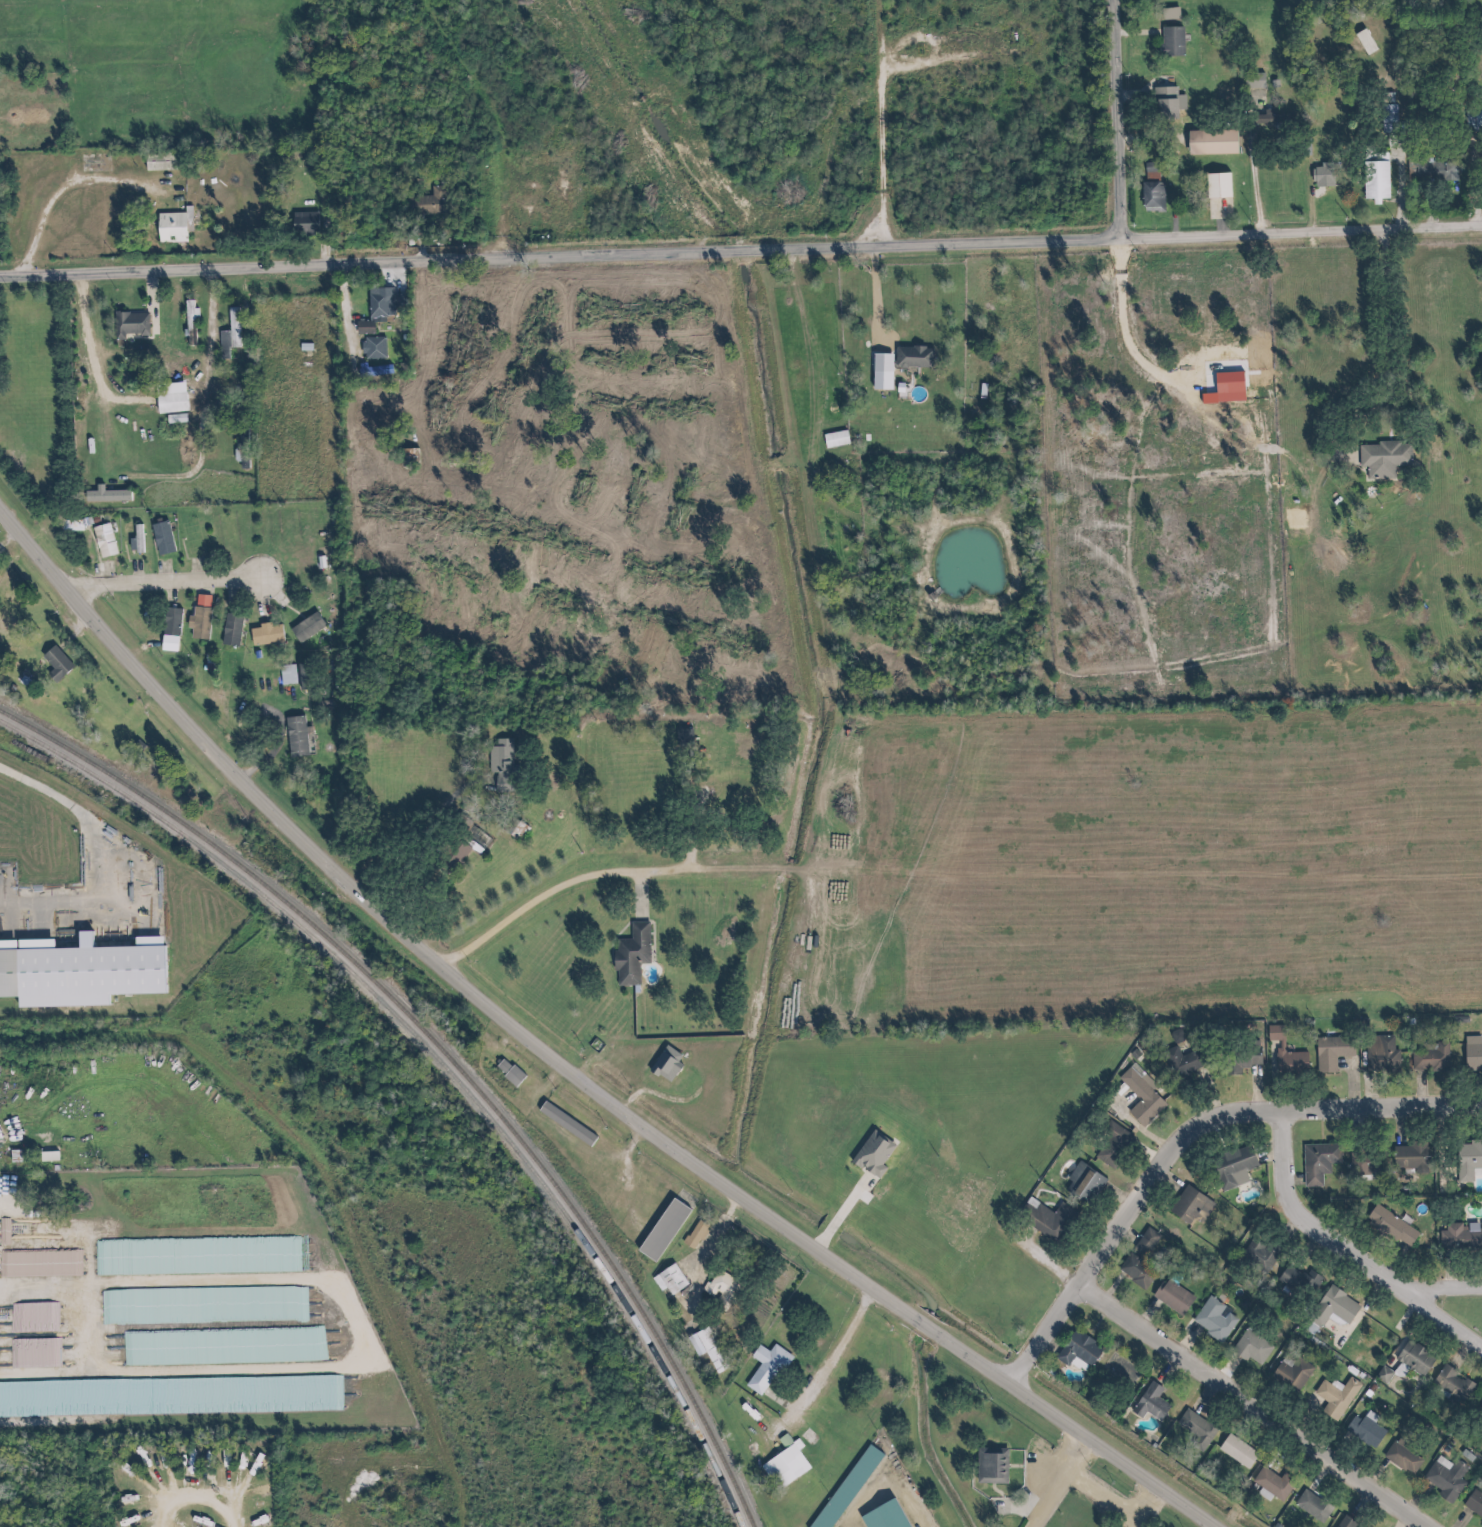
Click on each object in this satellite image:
building: (1173, 42)
building: (1366, 43)
building: (1256, 81)
building: (1167, 103)
road: (1112, 119)
building: (1391, 120)
road: (489, 121)
building: (1475, 122)
building: (1209, 140)
building: (158, 160)
building: (1430, 170)
building: (1323, 177)
building: (1216, 185)
building: (1374, 186)
road: (59, 189)
building: (1149, 197)
building: (426, 204)
building: (301, 220)
building: (171, 227)
road: (740, 250)
road: (145, 290)
building: (378, 306)
building: (169, 315)
building: (127, 322)
building: (361, 329)
road: (1381, 329)
building: (231, 334)
building: (380, 347)
building: (911, 357)
road: (85, 361)
road: (200, 368)
building: (879, 370)
building: (371, 371)
building: (168, 402)
building: (832, 439)
building: (244, 449)
building: (1380, 457)
building: (68, 526)
building: (841, 533)
building: (222, 536)
road: (177, 538)
building: (164, 539)
building: (101, 540)
road: (88, 546)
road: (179, 558)
road: (189, 571)
road: (159, 575)
road: (93, 576)
road: (154, 585)
road: (167, 593)
road: (199, 594)
road: (256, 598)
road: (275, 602)
building: (173, 622)
building: (201, 624)
building: (308, 629)
building: (233, 631)
road: (67, 634)
building: (268, 636)
building: (52, 665)
building: (288, 675)
building: (297, 737)
building: (497, 762)
building: (728, 787)
road: (682, 825)
road: (418, 831)
building: (518, 831)
road: (553, 886)
road: (633, 896)
building: (142, 924)
building: (169, 953)
building: (628, 955)
building: (8, 973)
road: (77, 1005)
building: (1270, 1031)
building: (1327, 1050)
railway: (447, 1053)
building: (1470, 1053)
building: (1379, 1055)
building: (1247, 1058)
building: (1426, 1059)
building: (1285, 1061)
building: (1175, 1062)
road: (564, 1073)
building: (505, 1076)
road: (1344, 1082)
road: (1360, 1082)
road: (1414, 1089)
road: (1203, 1094)
building: (1138, 1097)
building: (829, 1117)
building: (561, 1124)
road: (1131, 1125)
road: (1393, 1127)
road: (1314, 1128)
building: (571, 1131)
road: (1185, 1139)
road: (562, 1141)
building: (1112, 1142)
road: (1264, 1155)
building: (1405, 1155)
building: (1465, 1157)
building: (1311, 1161)
building: (1228, 1163)
building: (1360, 1164)
road: (327, 1168)
road: (784, 1171)
building: (594, 1173)
road: (1168, 1177)
road: (1287, 1179)
building: (1079, 1182)
road: (625, 1189)
road: (1114, 1194)
road: (651, 1199)
building: (1187, 1205)
road: (632, 1222)
building: (1046, 1222)
building: (1388, 1224)
building: (661, 1227)
road: (1123, 1232)
building: (690, 1235)
building: (1456, 1236)
road: (1023, 1240)
building: (1139, 1241)
building: (1148, 1243)
road: (692, 1251)
building: (1251, 1255)
road: (1343, 1255)
road: (1041, 1266)
road: (1441, 1268)
building: (1134, 1269)
building: (666, 1280)
building: (1297, 1283)
road: (1107, 1286)
building: (717, 1287)
road: (1440, 1290)
building: (1170, 1297)
building: (1329, 1306)
road: (1354, 1311)
park: (1454, 1312)
road: (1140, 1313)
road: (1399, 1314)
road: (53, 1318)
building: (1211, 1320)
road: (1090, 1322)
road: (1197, 1335)
road: (1180, 1337)
building: (1248, 1347)
building: (703, 1348)
building: (1073, 1349)
building: (1410, 1357)
building: (764, 1365)
road: (820, 1365)
road: (1465, 1365)
road: (1218, 1366)
building: (1124, 1371)
building: (1287, 1376)
building: (1446, 1384)
building: (1332, 1396)
road: (774, 1401)
building: (1144, 1402)
road: (1246, 1406)
building: (1477, 1412)
building: (1189, 1423)
building: (1360, 1428)
building: (1476, 1432)
building: (1232, 1452)
building: (1397, 1457)
road: (1018, 1460)
building: (987, 1464)
building: (780, 1465)
road: (1369, 1470)
building: (1441, 1479)
road: (1056, 1483)
building: (1270, 1483)
building: (841, 1489)
road: (987, 1492)
road: (1410, 1495)
road: (1029, 1497)
road: (985, 1500)
road: (859, 1502)
road: (1114, 1505)
building: (1309, 1506)
building: (1472, 1506)
building: (883, 1516)
road: (1457, 1518)
road: (1396, 1520)
building: (1345, 1522)

